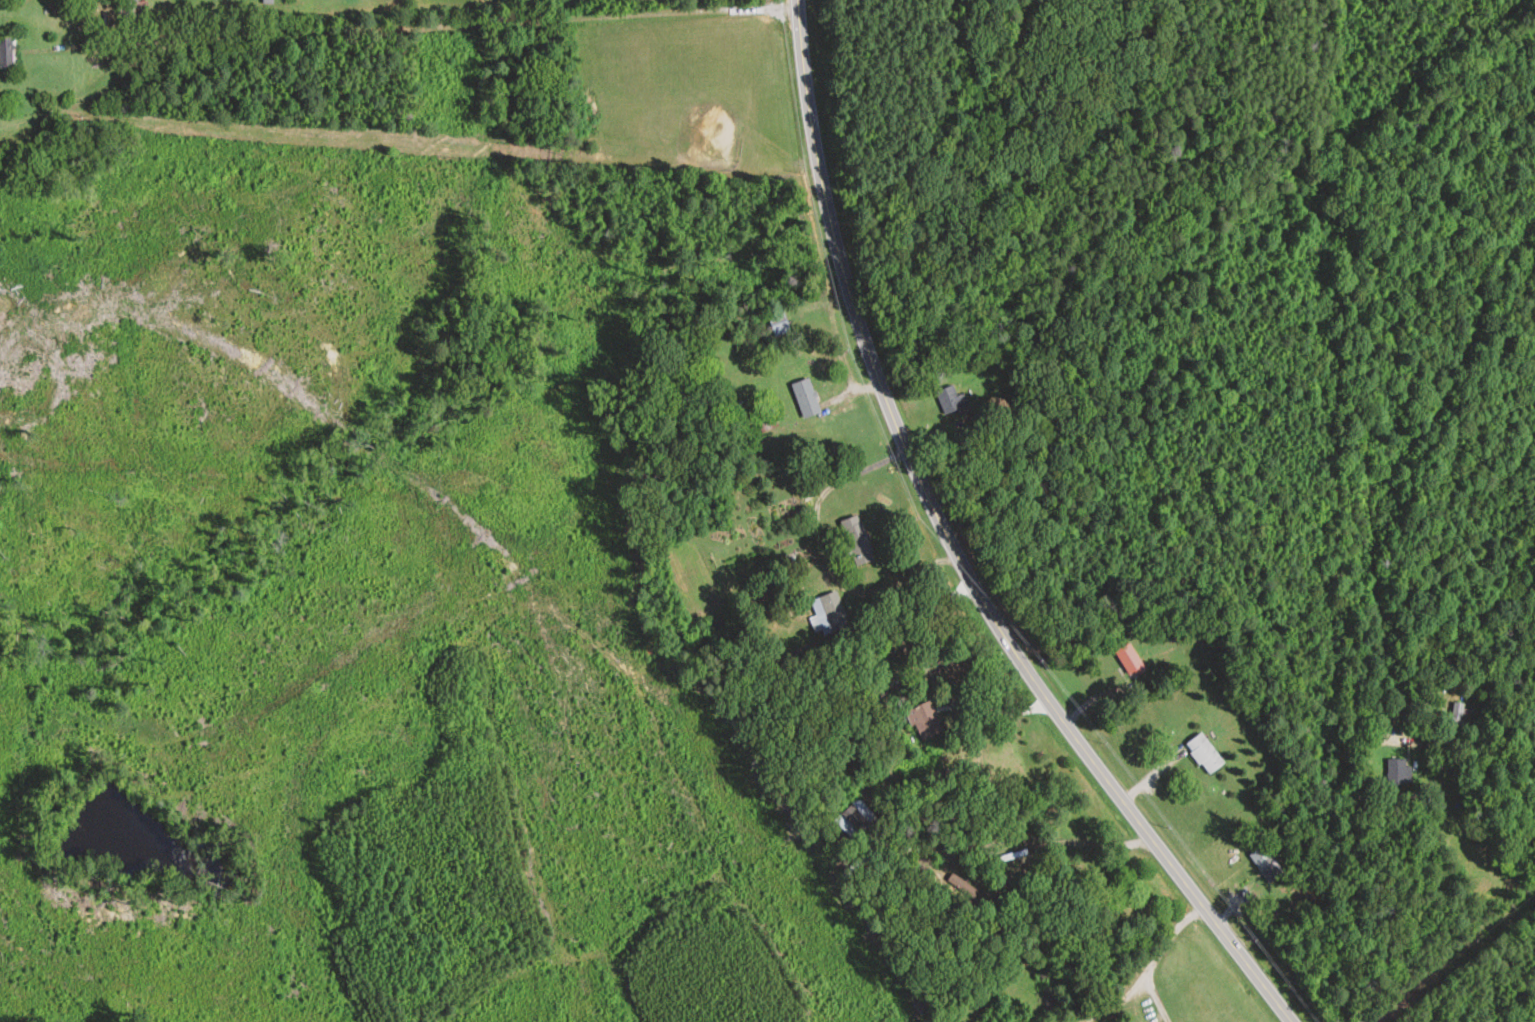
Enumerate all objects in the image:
building: (136, 8)
road: (447, 35)
building: (6, 52)
building: (779, 324)
building: (806, 399)
building: (950, 401)
building: (857, 541)
road: (961, 549)
road: (825, 560)
building: (830, 614)
building: (1130, 661)
road: (936, 681)
building: (876, 691)
building: (1458, 715)
building: (922, 721)
building: (1204, 754)
building: (1399, 773)
road: (1357, 799)
building: (1265, 864)
road: (1154, 971)

